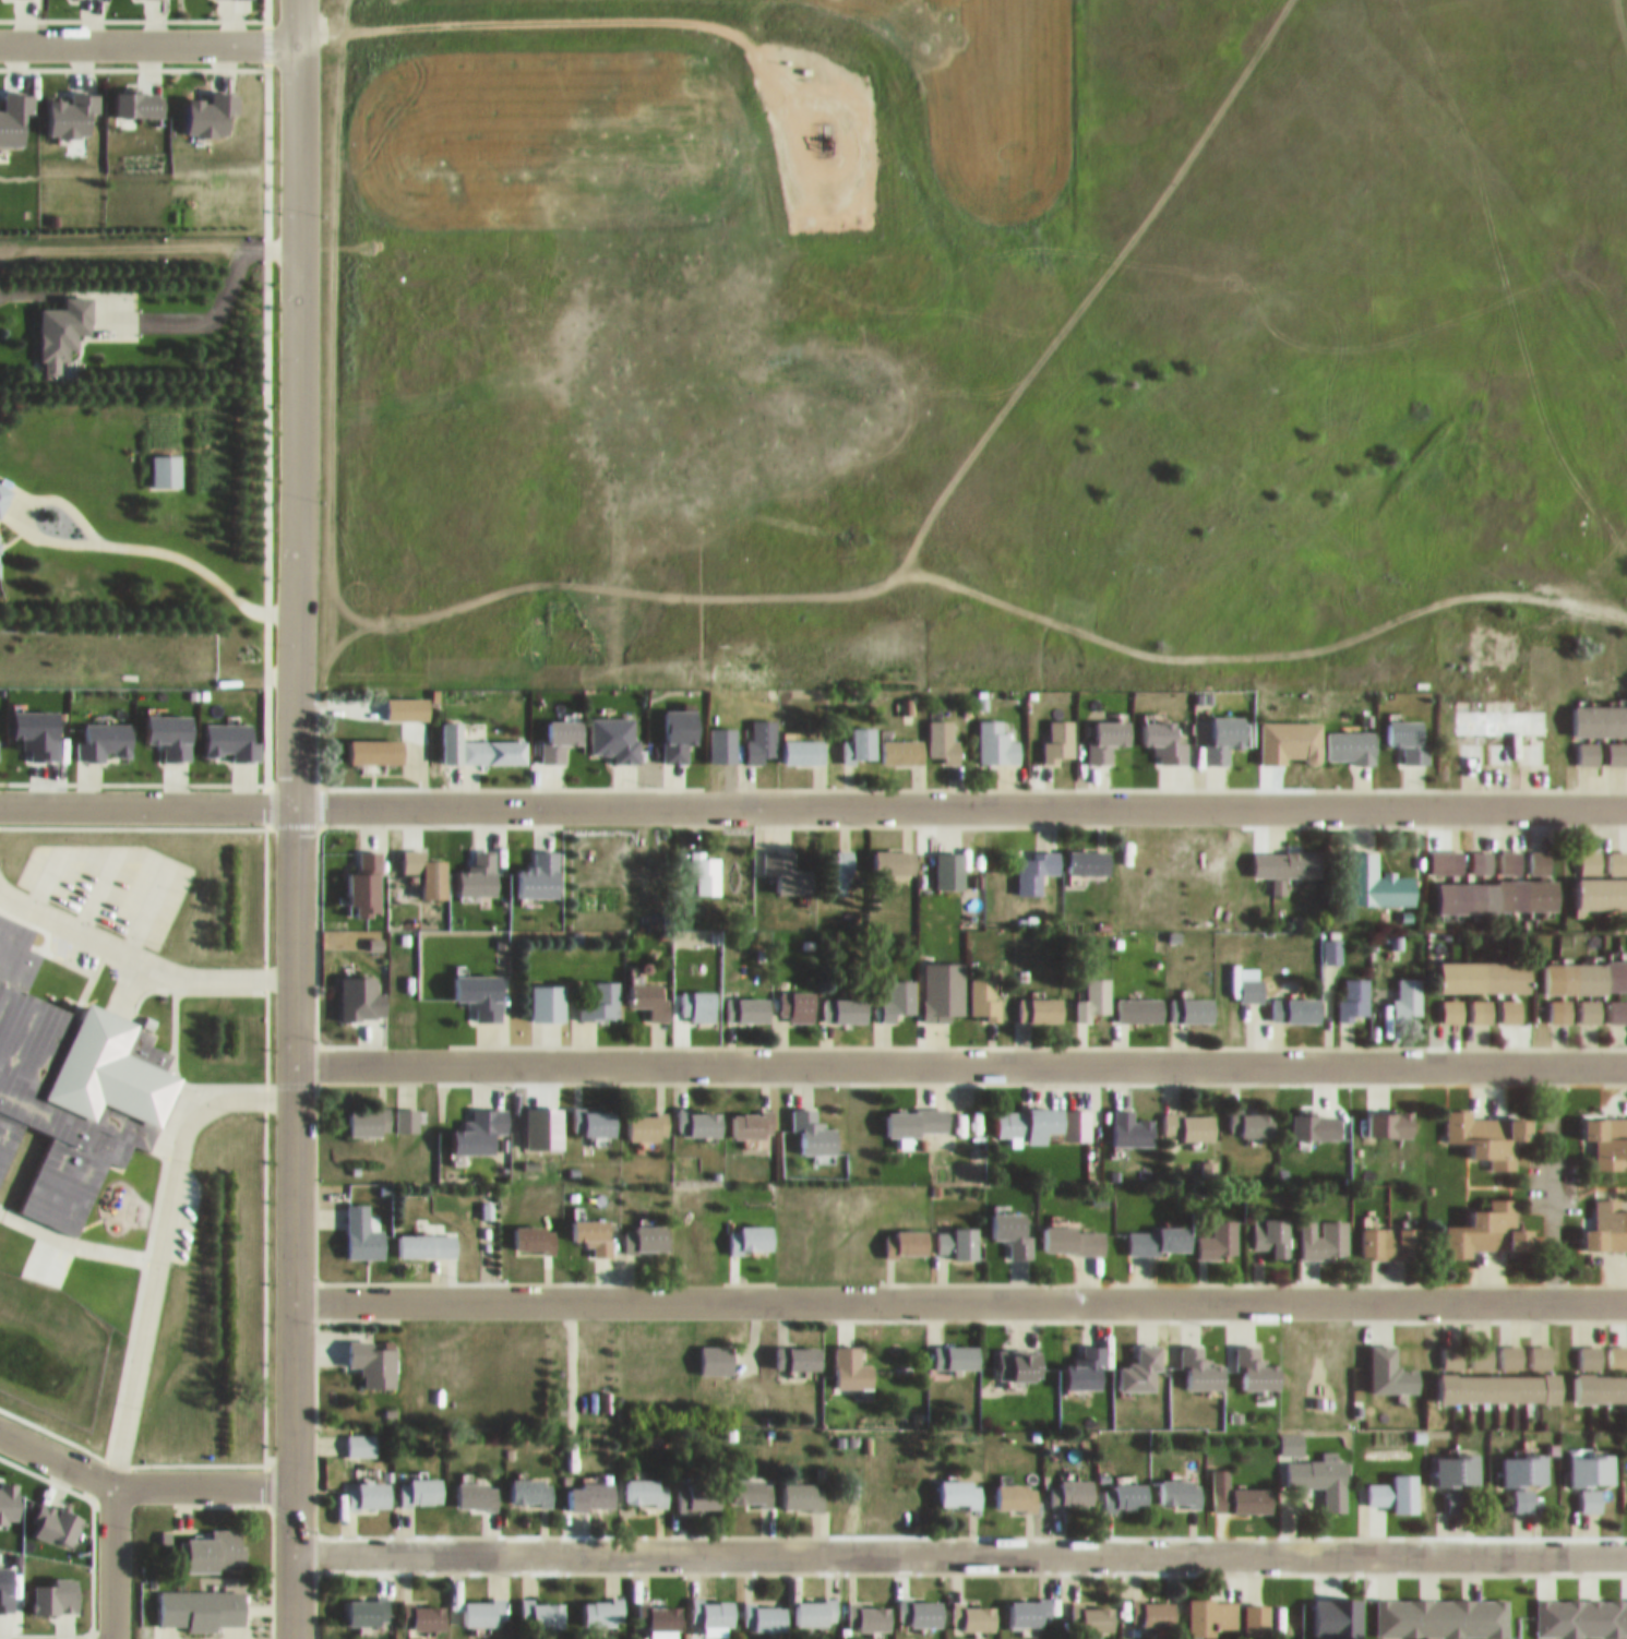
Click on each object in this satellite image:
road: (543, 11)
road: (147, 39)
road: (223, 288)
building: (65, 316)
road: (67, 497)
building: (1, 522)
building: (1533, 550)
road: (204, 561)
building: (1602, 710)
building: (1507, 711)
building: (680, 722)
building: (1225, 726)
building: (615, 727)
building: (561, 728)
building: (1110, 729)
building: (1410, 729)
building: (945, 730)
building: (998, 730)
building: (763, 731)
building: (1061, 731)
building: (1167, 731)
building: (863, 733)
building: (479, 735)
building: (1352, 737)
building: (378, 741)
building: (805, 741)
building: (905, 741)
building: (1504, 743)
building: (1590, 743)
building: (1617, 743)
road: (145, 798)
road: (959, 800)
road: (292, 818)
building: (896, 851)
building: (1090, 851)
building: (1447, 852)
building: (1539, 852)
building: (1510, 853)
building: (1604, 853)
building: (1297, 854)
building: (1481, 854)
building: (950, 860)
building: (1036, 860)
building: (788, 862)
building: (837, 862)
building: (706, 864)
building: (1378, 872)
building: (1603, 883)
building: (1498, 886)
road: (140, 957)
building: (1488, 966)
building: (1586, 966)
building: (1324, 970)
building: (1251, 974)
building: (482, 983)
building: (651, 988)
building: (985, 988)
building: (599, 990)
building: (899, 990)
building: (1096, 990)
building: (1355, 990)
building: (946, 991)
building: (549, 992)
building: (1404, 992)
building: (699, 995)
building: (799, 995)
building: (749, 998)
building: (847, 998)
building: (1042, 998)
building: (1140, 998)
building: (1193, 1000)
building: (1511, 1000)
building: (1560, 1000)
building: (1469, 1001)
building: (1602, 1001)
road: (959, 1055)
building: (67, 1077)
building: (407, 1110)
building: (370, 1111)
building: (919, 1111)
building: (1032, 1111)
building: (596, 1112)
building: (703, 1113)
building: (1260, 1113)
building: (753, 1114)
building: (649, 1115)
building: (1188, 1115)
building: (1491, 1116)
building: (482, 1121)
building: (816, 1121)
building: (1610, 1132)
building: (1608, 1216)
building: (1015, 1221)
building: (1493, 1221)
building: (363, 1223)
building: (594, 1224)
building: (1273, 1224)
building: (536, 1228)
building: (1325, 1228)
building: (647, 1229)
building: (752, 1229)
building: (1074, 1230)
building: (1159, 1230)
building: (1220, 1230)
building: (959, 1232)
building: (1392, 1232)
building: (429, 1235)
road: (156, 1245)
road: (959, 1292)
building: (958, 1347)
building: (1596, 1347)
building: (1456, 1348)
building: (1512, 1348)
building: (717, 1349)
building: (799, 1349)
building: (373, 1352)
building: (854, 1359)
building: (1089, 1359)
building: (1144, 1359)
building: (1198, 1361)
building: (1259, 1361)
building: (1504, 1378)
building: (1600, 1378)
building: (361, 1435)
building: (1458, 1459)
building: (1594, 1460)
building: (1324, 1469)
building: (1527, 1469)
building: (1222, 1480)
road: (140, 1481)
building: (421, 1481)
building: (534, 1481)
building: (752, 1481)
building: (648, 1482)
building: (961, 1483)
building: (1074, 1483)
building: (1181, 1483)
building: (1398, 1483)
building: (369, 1485)
building: (479, 1485)
building: (591, 1485)
building: (699, 1485)
building: (803, 1486)
building: (1018, 1486)
building: (1126, 1486)
building: (1255, 1490)
building: (1455, 1491)
building: (856, 1492)
building: (218, 1541)
road: (959, 1545)
road: (112, 1559)
building: (202, 1599)
building: (921, 1601)
building: (367, 1602)
building: (1029, 1602)
building: (483, 1603)
building: (603, 1603)
building: (719, 1603)
building: (816, 1603)
building: (1152, 1603)
building: (545, 1604)
building: (424, 1606)
building: (765, 1606)
building: (870, 1606)
building: (1212, 1606)
building: (981, 1607)
building: (1443, 1607)
building: (1581, 1607)
building: (1100, 1608)
building: (660, 1610)
building: (1257, 1610)
building: (1283, 1610)

